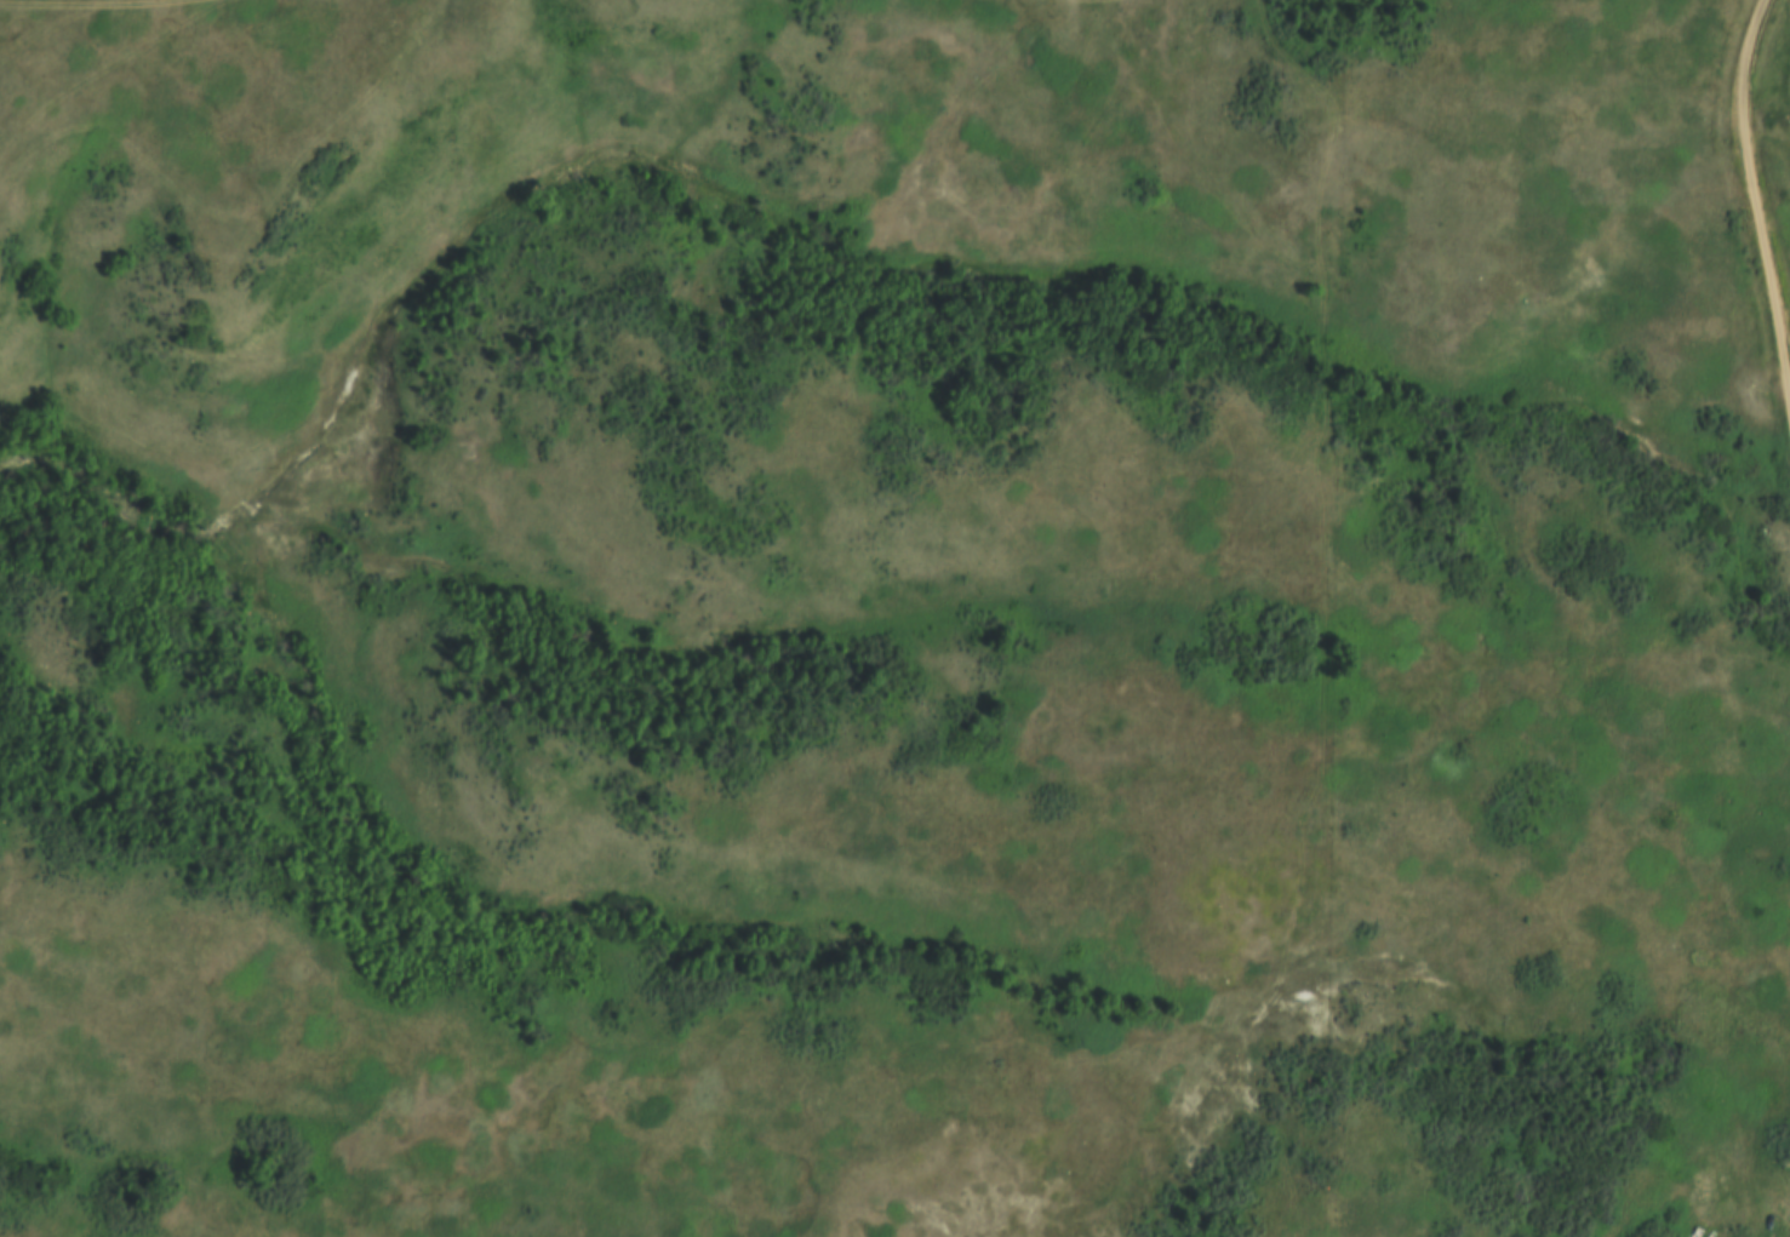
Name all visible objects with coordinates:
road: (1751, 184)

